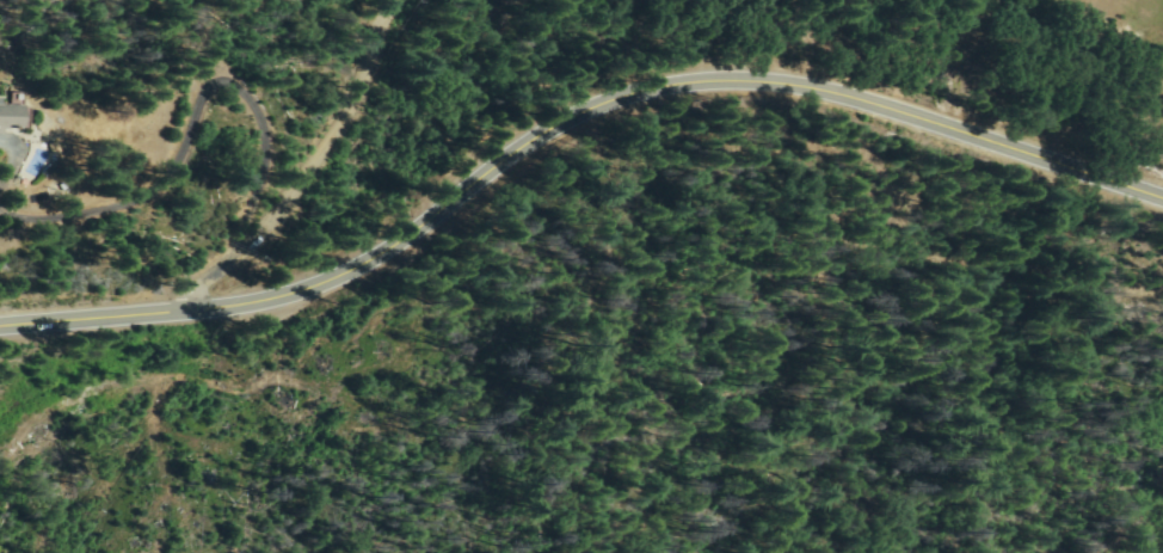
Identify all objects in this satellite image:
building: (16, 111)
road: (565, 128)
building: (61, 150)
road: (328, 153)
road: (178, 166)

